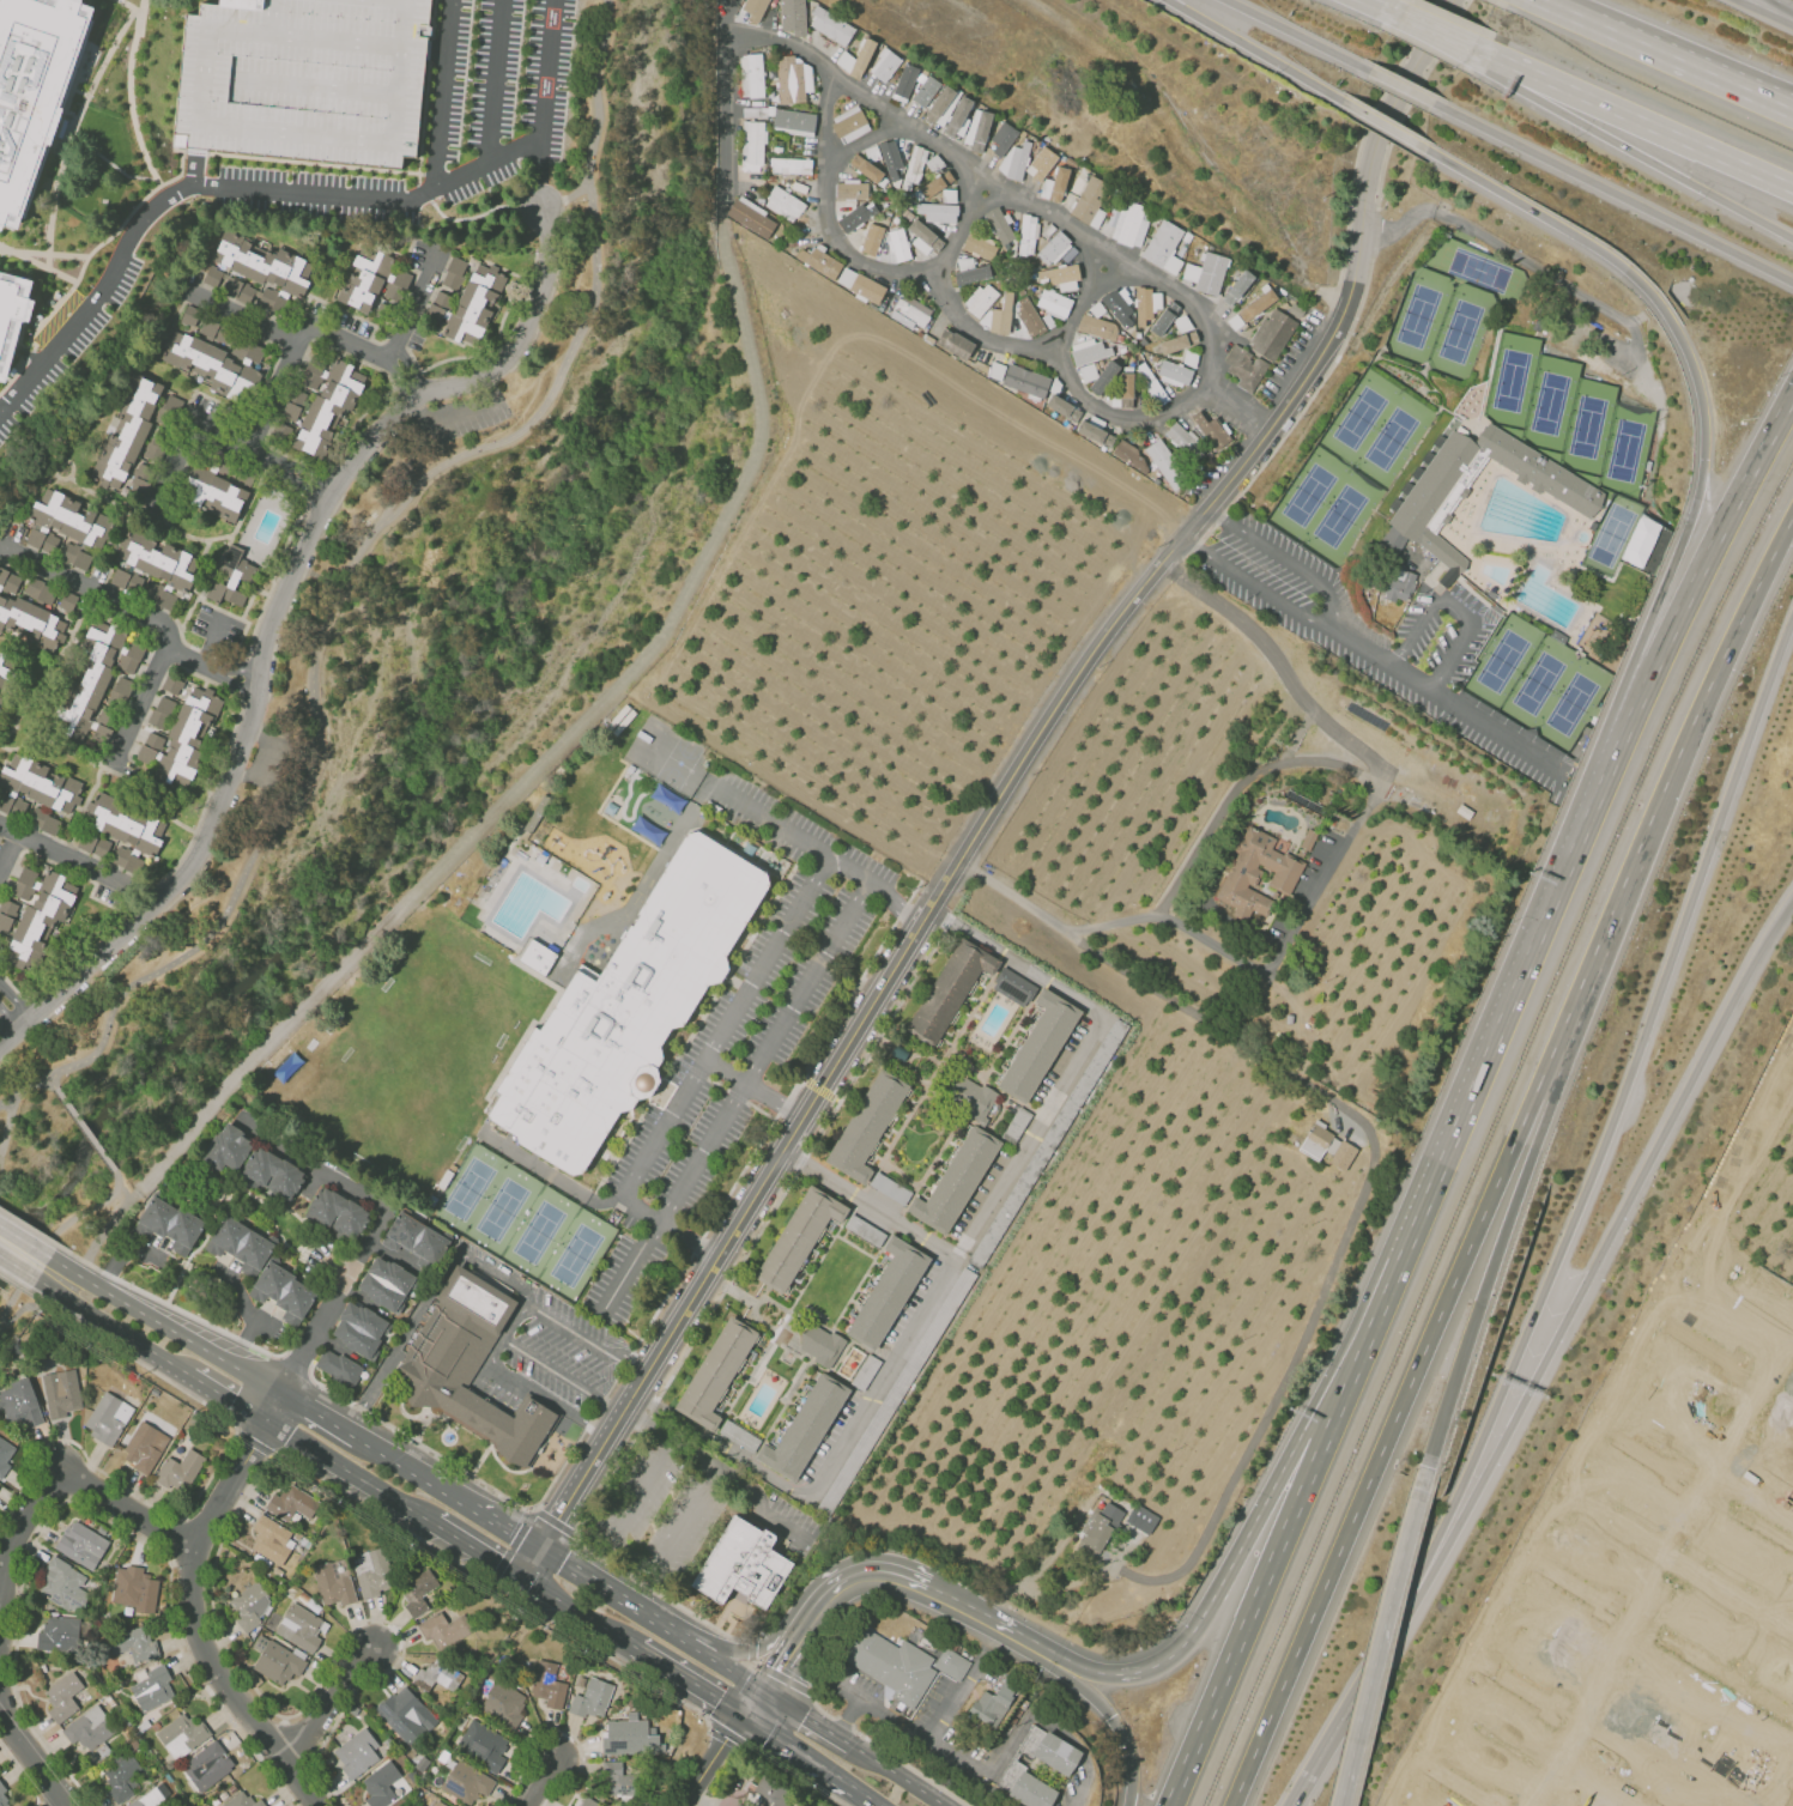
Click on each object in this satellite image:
road: (129, 6)
road: (1383, 7)
road: (1779, 8)
road: (727, 11)
road: (1764, 12)
building: (793, 16)
building: (830, 25)
road: (1436, 30)
road: (1296, 35)
road: (432, 51)
road: (1259, 51)
road: (1488, 53)
road: (97, 55)
road: (1664, 56)
building: (855, 59)
road: (104, 61)
building: (885, 65)
building: (751, 75)
building: (303, 78)
parking lot: (302, 79)
road: (497, 79)
building: (793, 79)
building: (904, 81)
building: (30, 85)
road: (1400, 86)
building: (923, 89)
road: (426, 93)
road: (441, 93)
road: (1411, 101)
road: (132, 103)
building: (940, 107)
road: (1788, 108)
building: (958, 117)
building: (793, 121)
building: (849, 123)
road: (1383, 123)
park: (625, 126)
road: (1647, 127)
building: (977, 129)
building: (1002, 140)
road: (861, 144)
building: (751, 146)
road: (1358, 150)
road: (195, 151)
road: (944, 151)
road: (1642, 156)
building: (890, 158)
building: (1014, 160)
road: (311, 163)
building: (933, 163)
building: (1040, 163)
road: (113, 164)
building: (789, 165)
road: (544, 168)
building: (865, 168)
building: (913, 168)
road: (195, 169)
road: (178, 170)
building: (1054, 184)
road: (290, 186)
building: (937, 186)
building: (850, 189)
road: (1612, 190)
road: (568, 198)
building: (1090, 201)
building: (783, 204)
building: (937, 212)
road: (477, 214)
building: (856, 216)
building: (752, 218)
building: (1123, 224)
building: (999, 225)
road: (1399, 226)
road: (49, 229)
road: (1376, 229)
road: (963, 231)
building: (1026, 234)
road: (111, 235)
building: (923, 237)
building: (871, 238)
building: (897, 244)
building: (1167, 246)
building: (979, 247)
building: (1053, 248)
road: (6, 249)
building: (819, 261)
park: (1474, 266)
road: (48, 267)
building: (254, 269)
building: (969, 271)
building: (453, 272)
building: (1205, 273)
road: (1552, 275)
building: (372, 284)
building: (860, 284)
building: (1236, 286)
road: (523, 293)
building: (980, 298)
road: (414, 301)
building: (1053, 303)
building: (1146, 304)
building: (1255, 304)
building: (467, 305)
road: (955, 305)
road: (1085, 308)
building: (904, 309)
road: (565, 311)
park: (1419, 311)
building: (8, 315)
building: (998, 315)
building: (1029, 317)
building: (1163, 317)
building: (1234, 321)
building: (205, 326)
park: (1461, 326)
building: (1097, 327)
road: (308, 329)
building: (1271, 334)
road: (31, 335)
building: (953, 344)
building: (1173, 344)
building: (176, 347)
building: (1089, 350)
building: (1189, 358)
road: (553, 365)
building: (222, 366)
building: (1243, 366)
building: (995, 370)
building: (1174, 371)
building: (1086, 372)
building: (1103, 376)
park: (1509, 376)
road: (388, 378)
road: (406, 378)
building: (1024, 380)
building: (1125, 388)
road: (277, 394)
park: (1550, 400)
road: (1700, 404)
building: (327, 405)
building: (1062, 407)
building: (168, 410)
road: (1295, 419)
park: (1588, 422)
road: (522, 423)
road: (464, 425)
park: (1376, 425)
road: (220, 429)
building: (281, 431)
building: (1090, 431)
building: (1211, 431)
road: (498, 432)
building: (123, 437)
building: (1183, 441)
road: (483, 443)
park: (1625, 446)
building: (155, 448)
road: (424, 452)
building: (1131, 456)
traffic signals: (1704, 457)
building: (1165, 463)
building: (1541, 471)
building: (200, 473)
building: (141, 479)
road: (314, 485)
building: (214, 497)
park: (1325, 502)
building: (1430, 503)
building: (62, 522)
park: (1611, 534)
building: (1642, 541)
road: (372, 551)
building: (74, 556)
building: (149, 563)
building: (230, 577)
building: (1394, 581)
road: (1691, 584)
road: (269, 587)
building: (40, 590)
road: (1115, 594)
road: (97, 595)
building: (1547, 598)
building: (67, 601)
road: (1455, 605)
building: (26, 616)
road: (274, 616)
road: (1335, 625)
parking lot: (1443, 632)
parking lot: (1359, 641)
park: (1503, 656)
building: (128, 657)
road: (1279, 667)
road: (210, 674)
road: (243, 674)
building: (2, 675)
building: (172, 684)
building: (91, 685)
park: (1553, 689)
building: (120, 691)
road: (1446, 697)
building: (160, 711)
road: (139, 713)
road: (1689, 727)
building: (182, 738)
road: (1049, 738)
road: (549, 757)
road: (271, 760)
road: (1349, 769)
road: (1010, 776)
building: (34, 787)
road: (1415, 806)
road: (770, 820)
building: (49, 825)
building: (125, 830)
building: (1309, 840)
building: (92, 844)
road: (186, 847)
road: (7, 856)
road: (77, 863)
building: (1259, 878)
building: (6, 914)
building: (37, 914)
building: (673, 933)
building: (538, 957)
building: (1012, 987)
building: (949, 992)
road: (1158, 994)
road: (12, 1008)
road: (1570, 1008)
road: (1501, 1022)
road: (726, 1023)
building: (1040, 1044)
road: (762, 1050)
road: (53, 1081)
road: (753, 1087)
road: (819, 1089)
road: (24, 1091)
building: (971, 1097)
road: (1615, 1111)
road: (6, 1126)
building: (865, 1127)
road: (84, 1128)
building: (1327, 1146)
building: (226, 1147)
building: (272, 1174)
road: (550, 1177)
road: (117, 1178)
road: (737, 1178)
building: (957, 1181)
building: (890, 1188)
road: (870, 1201)
building: (337, 1212)
building: (170, 1224)
road: (763, 1225)
road: (30, 1226)
road: (376, 1229)
road: (107, 1231)
building: (865, 1231)
building: (799, 1235)
building: (414, 1240)
road: (48, 1243)
building: (240, 1244)
road: (1601, 1248)
road: (20, 1255)
road: (955, 1257)
road: (631, 1263)
road: (1492, 1268)
road: (49, 1272)
building: (384, 1283)
road: (13, 1285)
building: (889, 1291)
building: (283, 1292)
building: (955, 1292)
road: (114, 1296)
road: (175, 1304)
road: (31, 1307)
road: (262, 1307)
road: (552, 1314)
road: (119, 1328)
building: (358, 1328)
road: (509, 1329)
road: (404, 1340)
road: (1367, 1340)
road: (1700, 1341)
building: (819, 1344)
road: (199, 1345)
road: (298, 1360)
road: (137, 1362)
building: (338, 1366)
building: (471, 1369)
building: (865, 1371)
building: (716, 1372)
road: (255, 1375)
road: (562, 1375)
road: (1280, 1386)
building: (60, 1393)
road: (231, 1396)
road: (549, 1398)
building: (19, 1404)
road: (319, 1414)
building: (107, 1418)
building: (806, 1428)
road: (1316, 1428)
building: (738, 1436)
fountain: (449, 1437)
road: (1387, 1437)
road: (255, 1444)
building: (144, 1447)
road: (432, 1450)
road: (1642, 1453)
building: (5, 1455)
traffic signals: (1426, 1466)
road: (720, 1468)
building: (178, 1471)
road: (353, 1472)
road: (412, 1474)
road: (67, 1475)
road: (1423, 1478)
road: (1571, 1486)
building: (291, 1503)
building: (1140, 1519)
road: (526, 1525)
road: (1764, 1529)
road: (503, 1531)
building: (1096, 1532)
building: (271, 1539)
building: (81, 1544)
road: (479, 1551)
road: (631, 1551)
traffic signals: (538, 1553)
road: (1680, 1563)
building: (743, 1565)
road: (531, 1566)
building: (372, 1577)
traffic signals: (525, 1580)
building: (333, 1583)
road: (1574, 1583)
building: (63, 1584)
road: (491, 1584)
road: (843, 1586)
building: (134, 1588)
building: (417, 1590)
road: (662, 1593)
road: (1211, 1598)
road: (613, 1599)
building: (249, 1605)
road: (188, 1607)
road: (1249, 1612)
building: (299, 1626)
building: (444, 1629)
road: (992, 1630)
building: (61, 1632)
road: (1764, 1637)
road: (1380, 1638)
building: (134, 1643)
road: (634, 1647)
road: (753, 1648)
road: (740, 1650)
building: (278, 1662)
road: (756, 1662)
building: (952, 1665)
road: (728, 1667)
building: (892, 1667)
road: (779, 1668)
road: (1726, 1674)
building: (425, 1675)
road: (786, 1679)
building: (547, 1685)
road: (1520, 1686)
building: (152, 1687)
road: (963, 1687)
traffic signals: (767, 1690)
road: (853, 1692)
building: (62, 1696)
road: (329, 1698)
building: (592, 1698)
road: (755, 1702)
road: (1351, 1702)
building: (503, 1703)
building: (988, 1709)
road: (820, 1710)
road: (801, 1713)
building: (406, 1715)
traffic signals: (743, 1715)
road: (848, 1716)
traffic signals: (1111, 1717)
road: (846, 1720)
building: (89, 1727)
road: (1116, 1727)
road: (727, 1732)
building: (181, 1734)
building: (629, 1737)
road: (843, 1740)
building: (481, 1745)
road: (28, 1749)
road: (1004, 1750)
building: (357, 1753)
road: (799, 1753)
building: (1055, 1753)
road: (711, 1759)
building: (205, 1766)
road: (910, 1766)
road: (789, 1772)
road: (898, 1775)
building: (120, 1777)
road: (539, 1781)
building: (619, 1781)
building: (466, 1782)
road: (1459, 1782)
building: (380, 1784)
building: (1032, 1790)
building: (771, 1793)
building: (2, 1796)
road: (1341, 1796)
building: (152, 1798)
road: (867, 1799)
building: (242, 1800)
building: (588, 1802)
building: (440, 1804)
building: (568, 1805)

